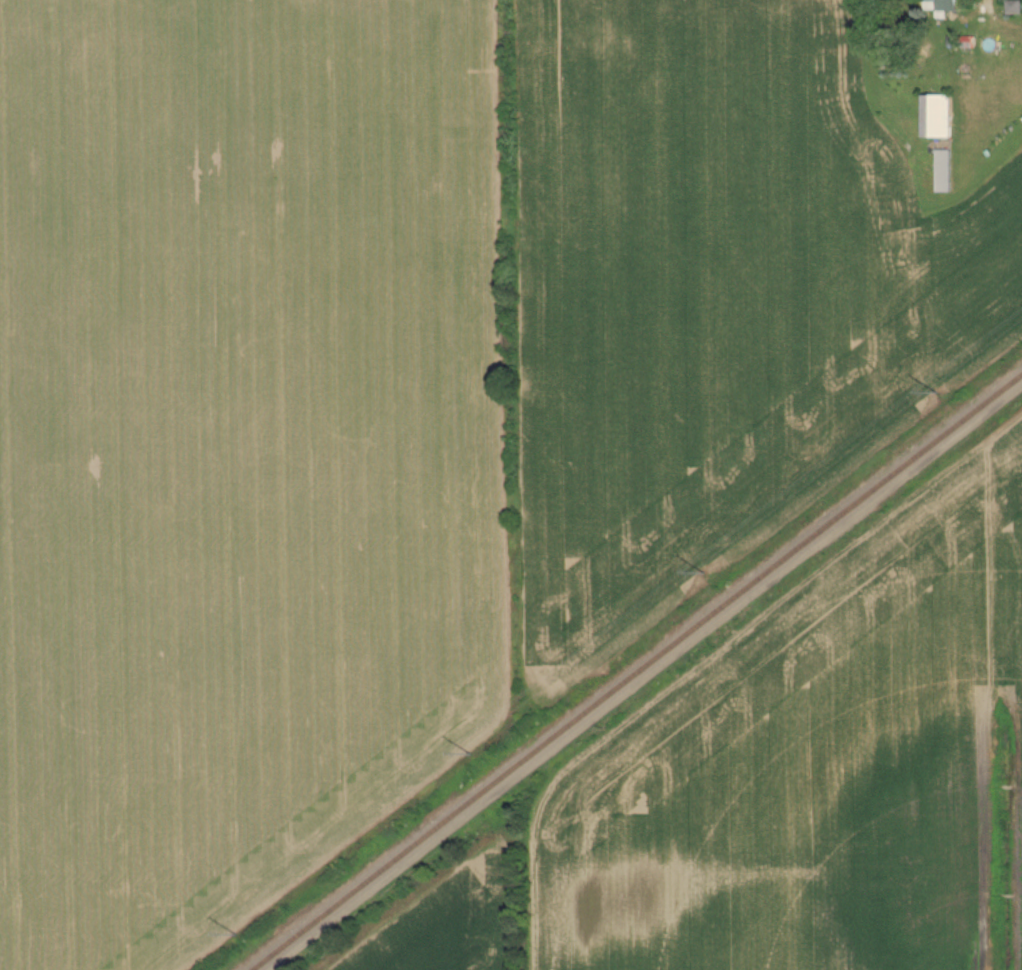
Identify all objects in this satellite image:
building: (940, 5)
building: (1014, 8)
building: (936, 117)
building: (942, 172)
crop: (721, 299)
crop: (240, 451)
railway: (627, 669)
crop: (813, 766)
crop: (446, 923)

